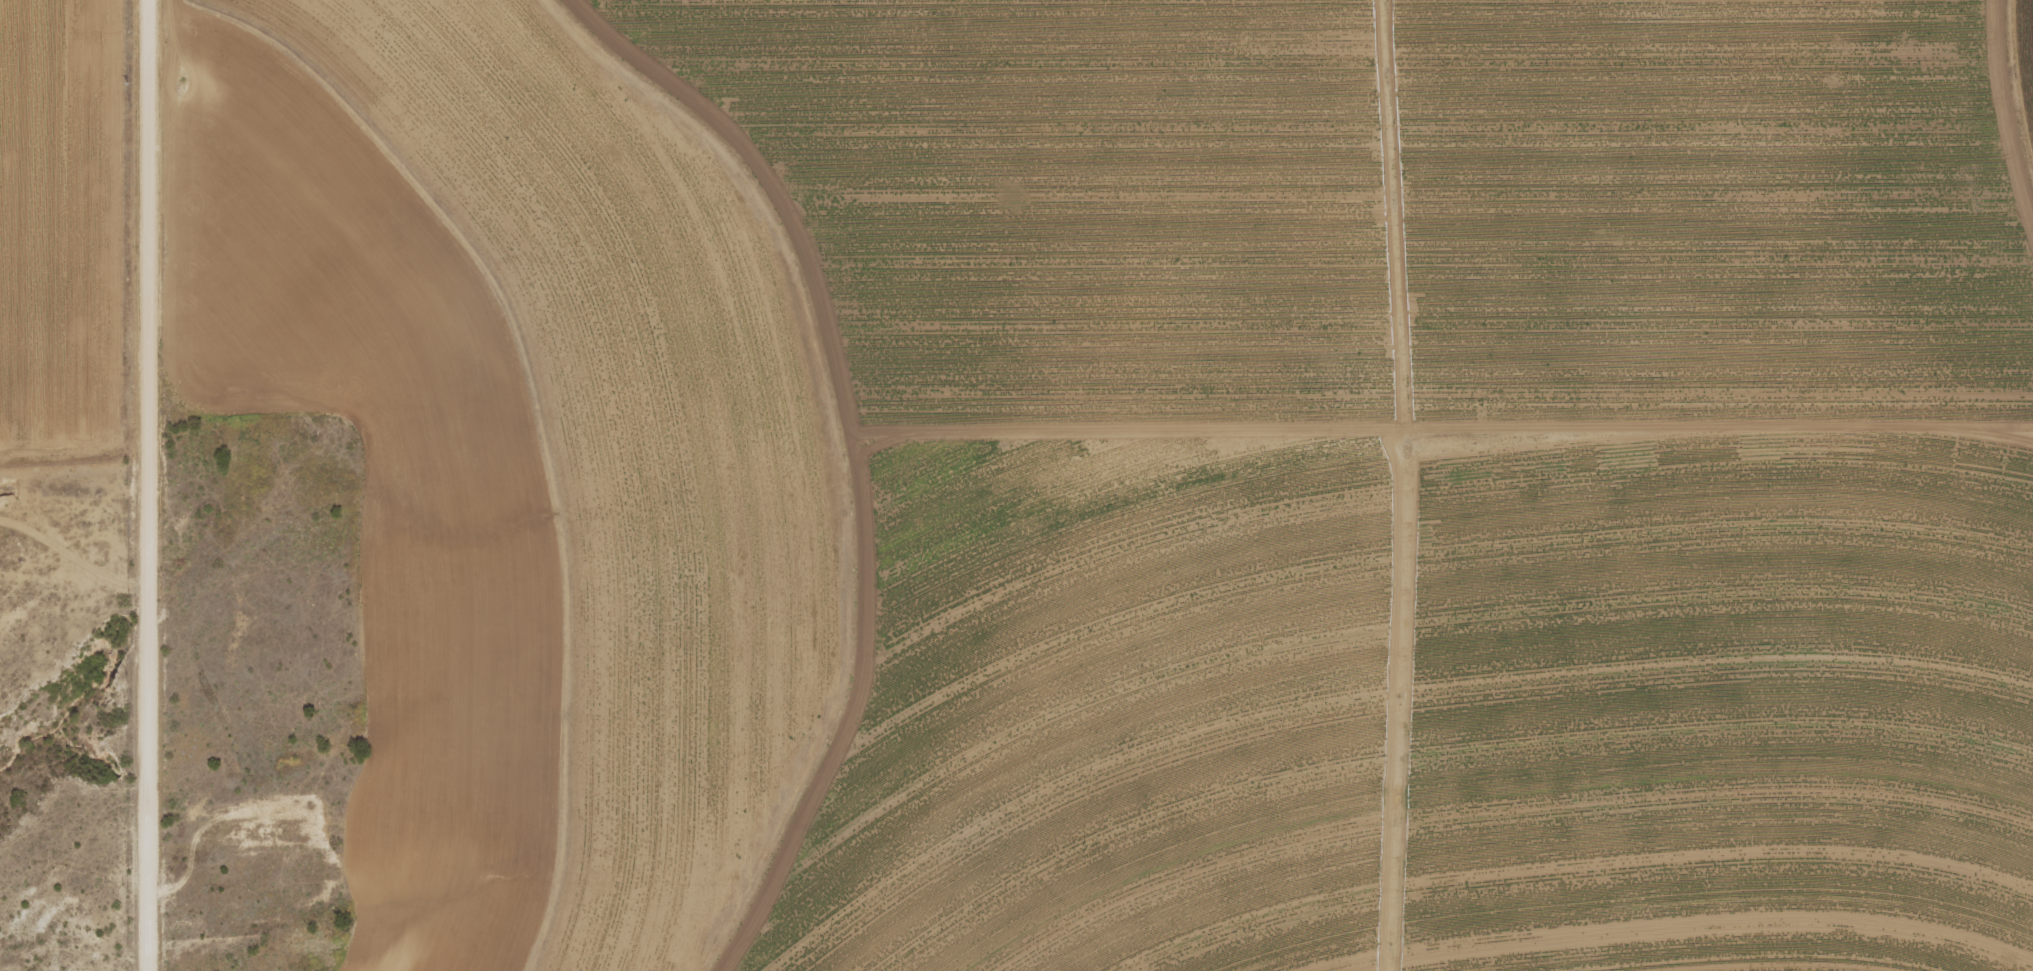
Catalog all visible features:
road: (119, 485)

